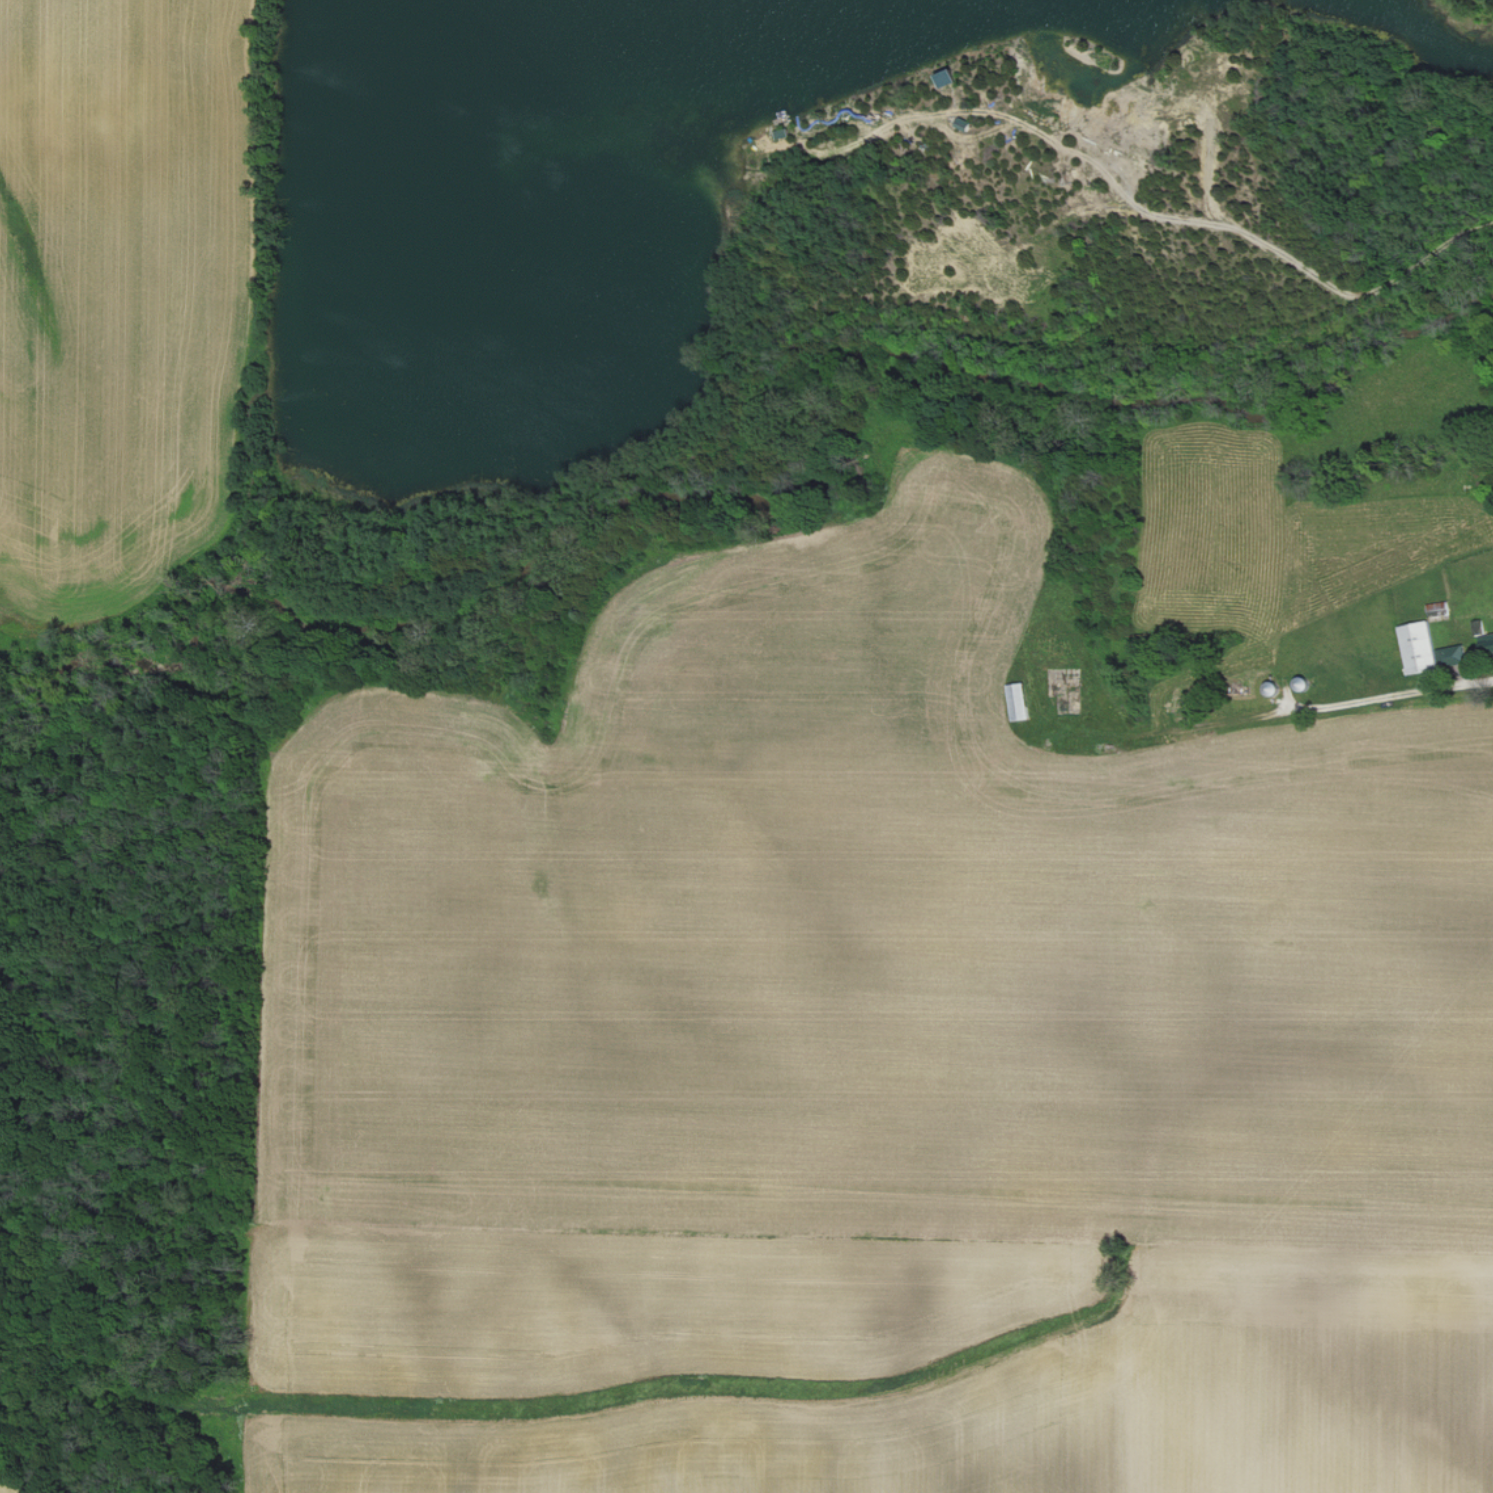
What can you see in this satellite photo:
building: (1441, 649)
road: (1310, 708)

